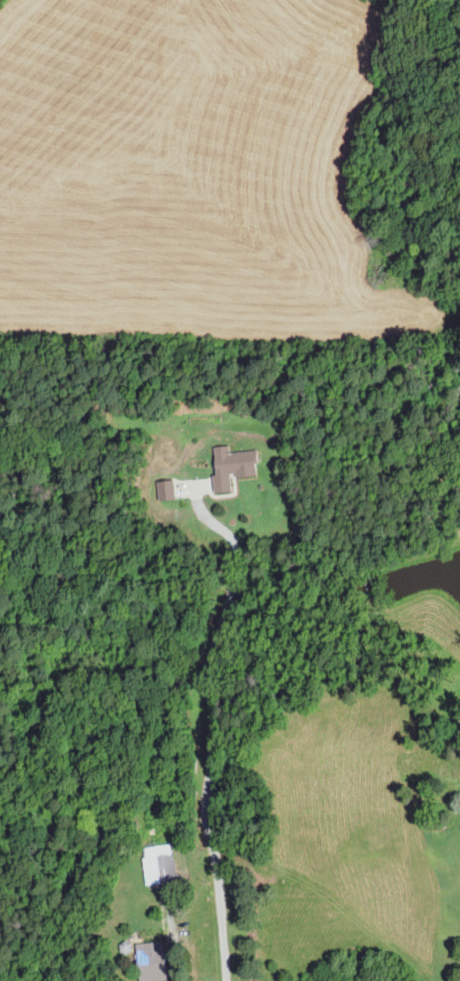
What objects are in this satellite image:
building: (230, 464)
building: (167, 489)
road: (212, 725)
building: (158, 863)
road: (173, 946)
building: (151, 960)

